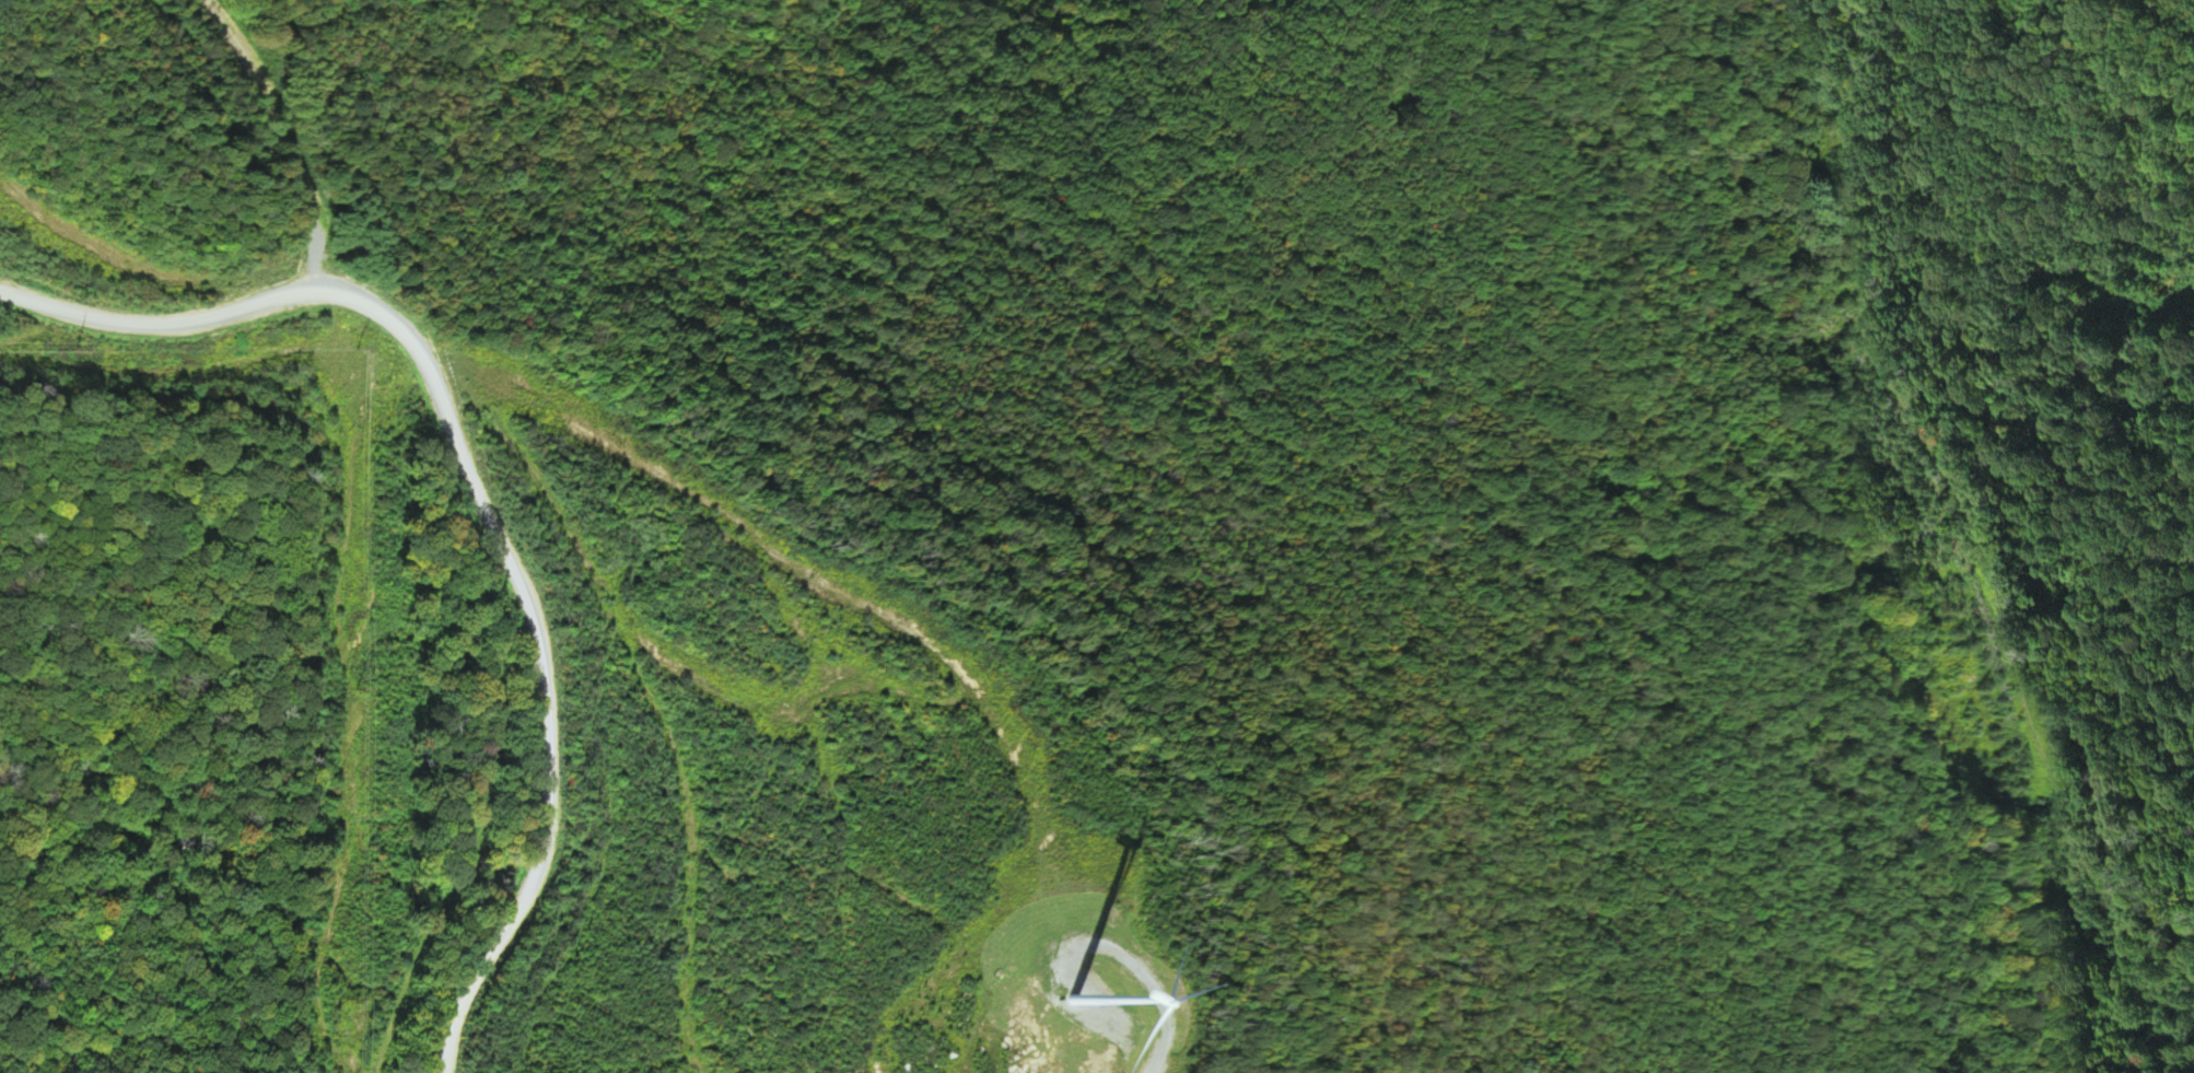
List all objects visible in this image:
road: (318, 160)
road: (2004, 466)
road: (547, 498)
wind turbine: (1075, 998)

